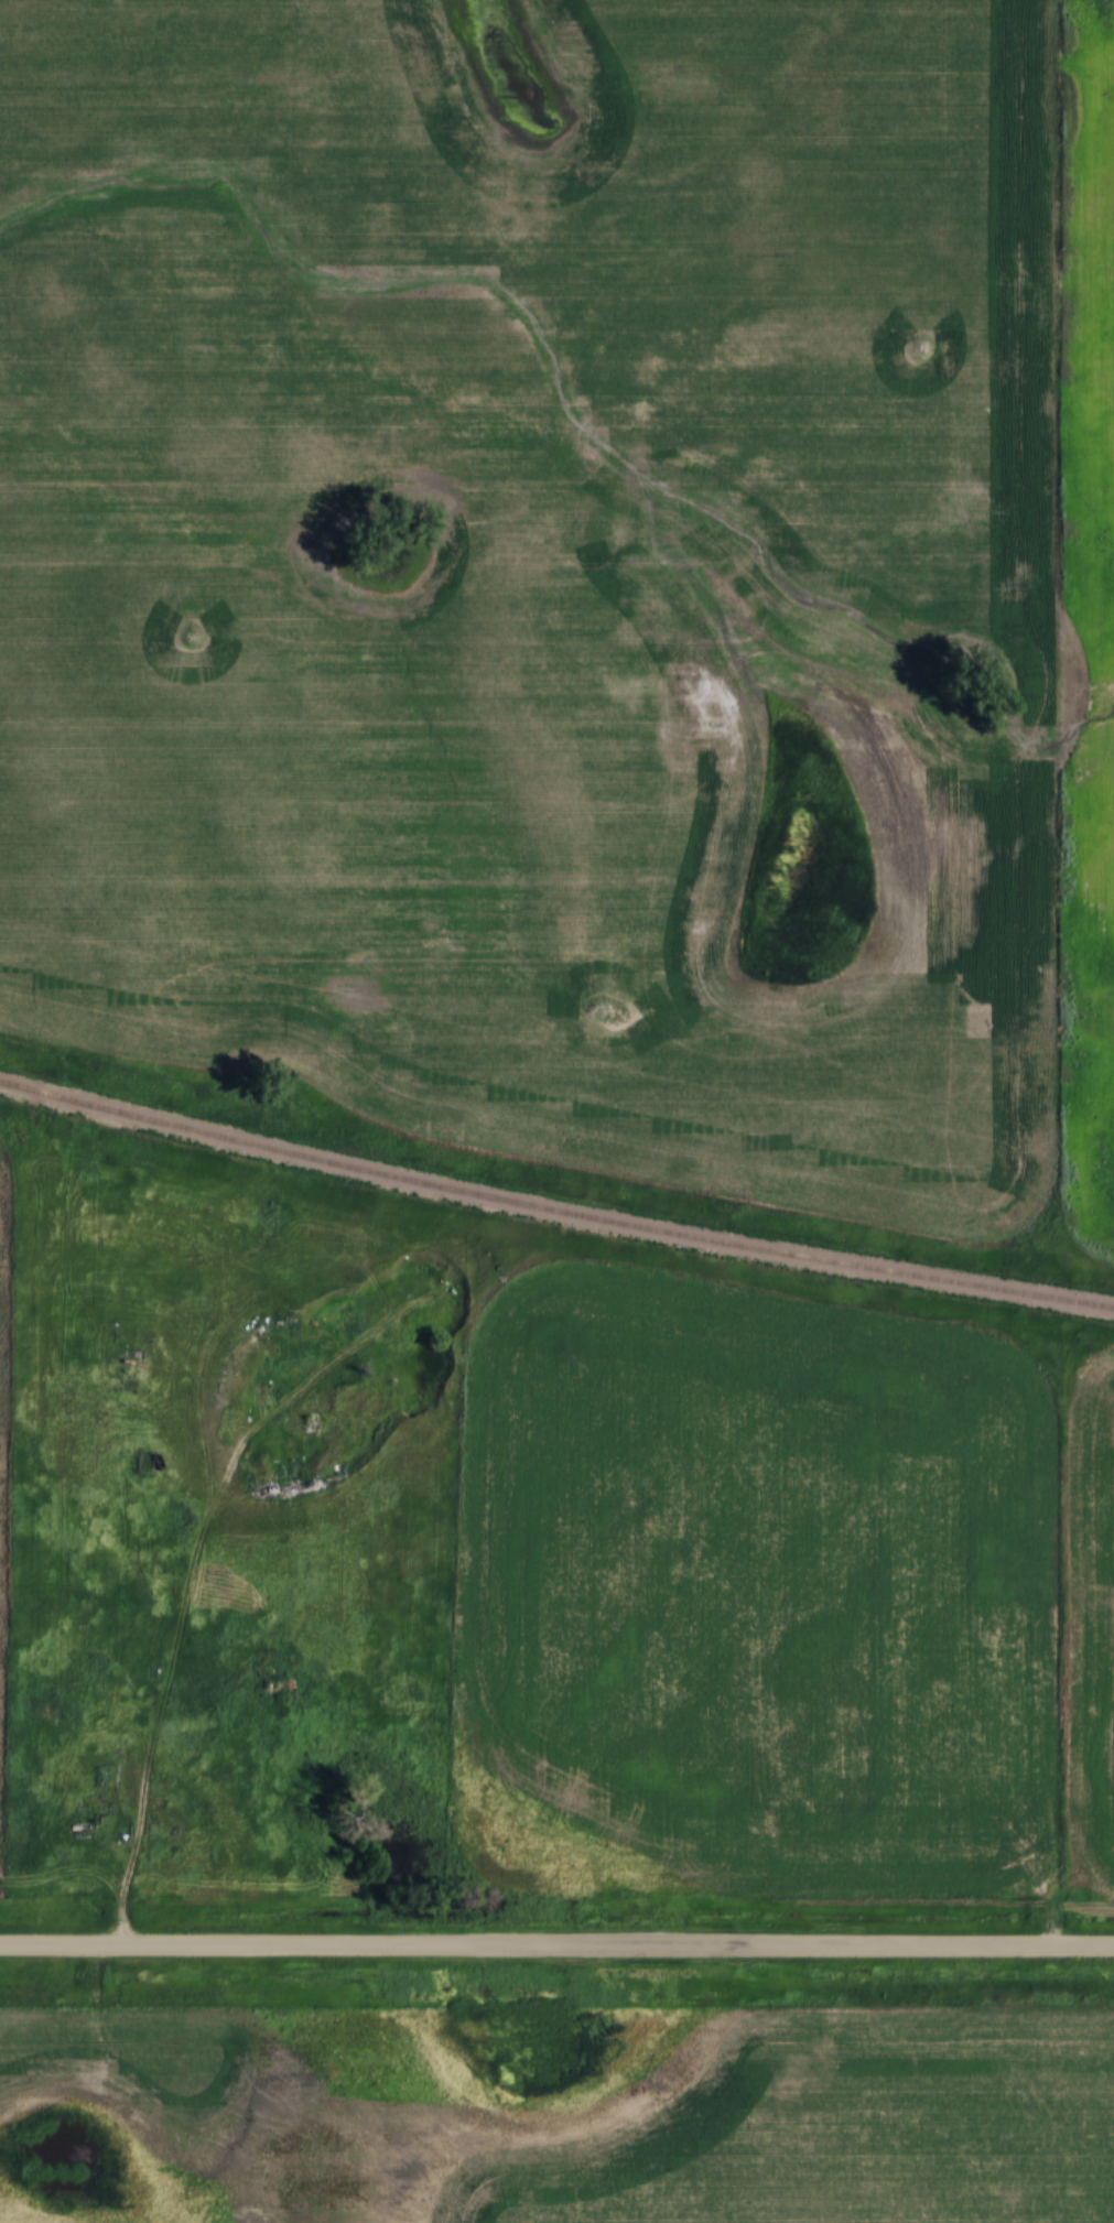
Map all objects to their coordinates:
railway: (553, 1207)
crop: (748, 1598)
road: (556, 1943)

